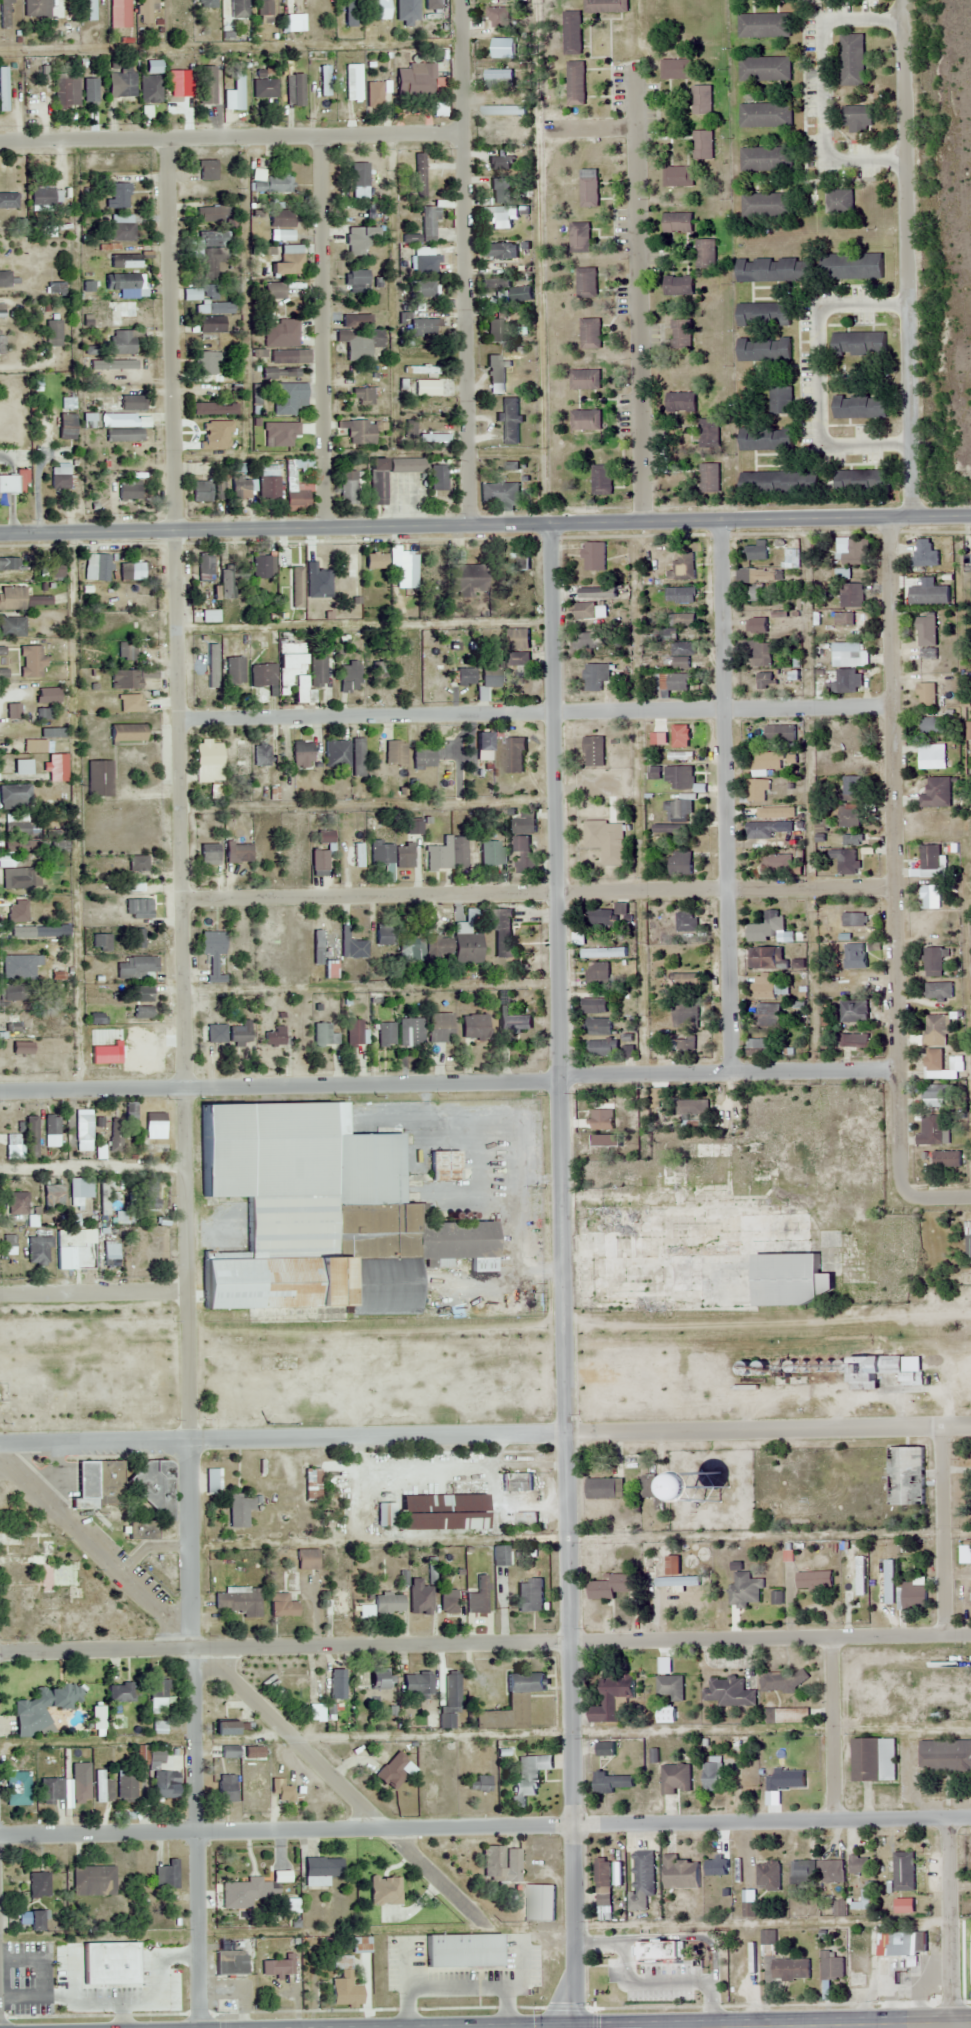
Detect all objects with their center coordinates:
building: (207, 3)
building: (431, 4)
building: (605, 6)
building: (237, 8)
building: (263, 8)
building: (36, 9)
building: (379, 9)
building: (404, 9)
building: (91, 10)
building: (145, 11)
building: (119, 13)
building: (349, 13)
building: (4, 14)
building: (491, 14)
building: (763, 25)
building: (572, 33)
building: (518, 45)
building: (852, 59)
building: (764, 68)
building: (675, 69)
building: (498, 79)
building: (415, 80)
building: (178, 81)
building: (575, 83)
building: (121, 84)
building: (206, 85)
building: (150, 88)
building: (264, 88)
road: (823, 88)
building: (3, 89)
building: (90, 89)
building: (294, 89)
building: (66, 92)
building: (234, 93)
building: (373, 94)
building: (701, 99)
building: (31, 106)
building: (764, 115)
building: (857, 119)
road: (230, 136)
building: (703, 144)
building: (767, 159)
building: (132, 160)
building: (501, 161)
building: (206, 170)
building: (359, 175)
building: (419, 175)
building: (678, 176)
building: (272, 181)
building: (589, 188)
building: (501, 190)
building: (119, 195)
building: (49, 196)
building: (8, 200)
building: (839, 202)
building: (767, 205)
building: (210, 214)
building: (280, 218)
building: (500, 219)
building: (677, 222)
building: (428, 223)
building: (121, 228)
building: (579, 237)
building: (212, 238)
building: (354, 240)
building: (497, 250)
building: (705, 254)
road: (908, 258)
building: (124, 261)
building: (211, 262)
road: (464, 262)
building: (291, 263)
building: (850, 266)
building: (775, 269)
building: (357, 278)
building: (7, 280)
building: (586, 282)
building: (123, 284)
building: (678, 286)
building: (422, 288)
building: (273, 290)
building: (297, 290)
building: (191, 294)
building: (521, 294)
building: (502, 295)
road: (638, 303)
building: (210, 309)
building: (127, 310)
building: (763, 314)
building: (356, 321)
building: (210, 324)
building: (424, 327)
building: (495, 330)
road: (321, 331)
building: (53, 333)
building: (281, 333)
building: (590, 334)
building: (681, 334)
building: (122, 342)
building: (360, 342)
building: (858, 344)
building: (764, 349)
building: (290, 357)
building: (124, 366)
building: (212, 366)
building: (496, 371)
building: (280, 373)
road: (817, 373)
building: (584, 380)
building: (426, 388)
building: (364, 395)
building: (288, 398)
building: (780, 400)
road: (16, 401)
building: (681, 402)
building: (131, 403)
building: (860, 406)
building: (213, 409)
building: (118, 420)
building: (586, 420)
building: (509, 421)
building: (364, 431)
building: (66, 432)
building: (709, 433)
building: (121, 435)
building: (765, 438)
building: (213, 439)
building: (434, 439)
building: (406, 465)
building: (10, 467)
building: (59, 476)
building: (438, 478)
building: (709, 478)
building: (601, 480)
building: (861, 480)
building: (377, 481)
building: (269, 482)
building: (779, 483)
building: (296, 484)
building: (240, 487)
building: (348, 487)
building: (218, 489)
building: (128, 490)
building: (201, 491)
building: (499, 494)
road: (929, 515)
road: (444, 525)
building: (757, 551)
building: (852, 551)
building: (925, 553)
building: (593, 557)
building: (375, 560)
building: (318, 563)
building: (515, 563)
building: (9, 564)
building: (205, 566)
building: (263, 566)
building: (51, 567)
building: (96, 567)
building: (682, 568)
building: (406, 570)
building: (131, 571)
building: (348, 572)
building: (759, 576)
building: (231, 579)
building: (467, 580)
building: (754, 594)
building: (681, 595)
building: (851, 595)
building: (20, 599)
building: (135, 604)
building: (514, 607)
building: (586, 611)
building: (210, 616)
building: (682, 620)
building: (843, 620)
building: (11, 627)
building: (926, 630)
building: (663, 634)
building: (773, 634)
building: (518, 639)
building: (590, 640)
building: (683, 649)
building: (2, 651)
building: (127, 652)
building: (927, 652)
building: (759, 654)
building: (519, 659)
building: (30, 662)
building: (681, 663)
building: (235, 671)
building: (318, 671)
building: (377, 671)
building: (3, 673)
building: (206, 675)
building: (491, 675)
building: (281, 676)
building: (350, 676)
building: (595, 676)
building: (464, 677)
building: (129, 678)
building: (764, 680)
building: (435, 681)
building: (679, 682)
building: (925, 694)
building: (47, 696)
building: (88, 701)
road: (808, 705)
road: (451, 713)
building: (44, 714)
building: (10, 721)
building: (936, 722)
building: (51, 732)
building: (126, 733)
building: (675, 733)
building: (779, 733)
building: (483, 741)
building: (593, 751)
building: (358, 753)
building: (301, 754)
building: (336, 754)
building: (395, 754)
building: (261, 755)
building: (515, 756)
building: (681, 756)
building: (932, 756)
building: (241, 757)
building: (423, 758)
building: (208, 761)
building: (767, 761)
building: (56, 763)
building: (22, 766)
building: (679, 777)
building: (99, 778)
building: (852, 787)
road: (181, 790)
building: (757, 791)
building: (937, 793)
building: (15, 796)
road: (724, 796)
building: (677, 811)
building: (760, 813)
building: (849, 817)
building: (525, 824)
building: (17, 829)
building: (666, 829)
building: (762, 830)
building: (324, 837)
building: (606, 840)
building: (852, 841)
building: (396, 849)
building: (209, 853)
building: (240, 853)
building: (522, 854)
building: (448, 855)
building: (493, 855)
building: (929, 857)
building: (6, 861)
building: (292, 861)
building: (845, 861)
building: (319, 862)
road: (893, 862)
building: (137, 863)
building: (773, 863)
building: (680, 864)
building: (21, 880)
road: (538, 890)
building: (930, 897)
building: (138, 909)
building: (26, 913)
building: (609, 916)
building: (853, 921)
building: (686, 922)
building: (770, 924)
building: (20, 932)
building: (502, 933)
building: (385, 934)
building: (136, 939)
building: (100, 943)
building: (466, 945)
building: (317, 948)
building: (354, 948)
building: (436, 948)
building: (274, 949)
building: (412, 949)
building: (300, 950)
building: (605, 953)
building: (213, 955)
building: (859, 955)
building: (766, 958)
building: (933, 962)
building: (18, 967)
building: (134, 968)
building: (597, 973)
building: (683, 981)
building: (764, 987)
building: (938, 991)
building: (15, 992)
building: (139, 994)
building: (594, 1006)
building: (142, 1012)
building: (854, 1012)
building: (686, 1013)
building: (769, 1015)
building: (13, 1023)
building: (515, 1023)
building: (1, 1027)
building: (475, 1027)
building: (598, 1027)
building: (440, 1028)
building: (935, 1030)
building: (411, 1032)
building: (354, 1033)
building: (215, 1034)
building: (240, 1034)
building: (121, 1035)
building: (321, 1035)
building: (386, 1035)
building: (273, 1037)
building: (854, 1042)
building: (684, 1045)
building: (758, 1046)
building: (602, 1048)
building: (144, 1056)
building: (20, 1057)
building: (933, 1063)
road: (448, 1080)
building: (936, 1096)
building: (691, 1107)
building: (82, 1126)
building: (153, 1128)
building: (931, 1130)
building: (51, 1131)
building: (115, 1135)
building: (31, 1137)
building: (613, 1146)
building: (14, 1152)
building: (946, 1159)
building: (443, 1166)
road: (93, 1168)
building: (672, 1173)
building: (81, 1188)
building: (53, 1194)
building: (148, 1194)
road: (944, 1196)
building: (105, 1197)
building: (17, 1204)
building: (317, 1213)
building: (968, 1248)
building: (71, 1249)
building: (39, 1250)
building: (110, 1254)
building: (707, 1260)
road: (563, 1275)
road: (94, 1293)
railway: (485, 1343)
building: (878, 1372)
road: (485, 1438)
building: (275, 1469)
building: (906, 1476)
building: (213, 1482)
building: (516, 1483)
building: (97, 1485)
building: (312, 1485)
building: (153, 1486)
building: (605, 1489)
building: (653, 1491)
building: (239, 1511)
building: (442, 1513)
building: (386, 1516)
building: (141, 1530)
road: (944, 1530)
building: (501, 1556)
building: (306, 1560)
building: (54, 1581)
building: (814, 1581)
building: (677, 1584)
building: (608, 1588)
building: (744, 1590)
building: (852, 1593)
building: (530, 1596)
building: (962, 1596)
building: (419, 1598)
building: (477, 1598)
building: (912, 1598)
building: (448, 1602)
building: (338, 1603)
building: (387, 1604)
building: (281, 1606)
road: (769, 1637)
road: (283, 1642)
building: (781, 1681)
building: (378, 1683)
building: (337, 1684)
building: (417, 1684)
road: (240, 1688)
building: (670, 1688)
building: (121, 1692)
building: (727, 1692)
building: (158, 1695)
building: (611, 1698)
building: (449, 1701)
building: (511, 1703)
building: (40, 1707)
building: (786, 1715)
building: (224, 1727)
road: (832, 1728)
road: (196, 1735)
building: (604, 1748)
building: (229, 1752)
building: (150, 1754)
building: (945, 1756)
building: (873, 1759)
building: (392, 1771)
building: (712, 1773)
building: (528, 1778)
building: (675, 1779)
building: (786, 1779)
building: (479, 1783)
building: (612, 1783)
building: (165, 1784)
building: (103, 1787)
building: (18, 1788)
building: (126, 1788)
building: (226, 1788)
building: (52, 1789)
building: (81, 1790)
building: (281, 1790)
building: (253, 1793)
road: (770, 1820)
road: (285, 1832)
building: (501, 1865)
building: (860, 1865)
building: (716, 1867)
building: (322, 1868)
building: (831, 1871)
building: (904, 1871)
building: (803, 1872)
building: (602, 1873)
building: (644, 1873)
building: (680, 1873)
building: (166, 1875)
building: (768, 1875)
building: (93, 1881)
building: (39, 1884)
road: (1, 1887)
building: (384, 1891)
building: (243, 1893)
building: (539, 1902)
building: (604, 1902)
building: (36, 1920)
road: (950, 1923)
building: (768, 1939)
building: (902, 1943)
building: (361, 1945)
building: (462, 1950)
building: (660, 1951)
building: (230, 1965)
building: (277, 1967)
building: (831, 1967)
building: (790, 1969)
building: (148, 1983)
gas station: (148, 1983)
building: (345, 1992)
road: (951, 2026)

